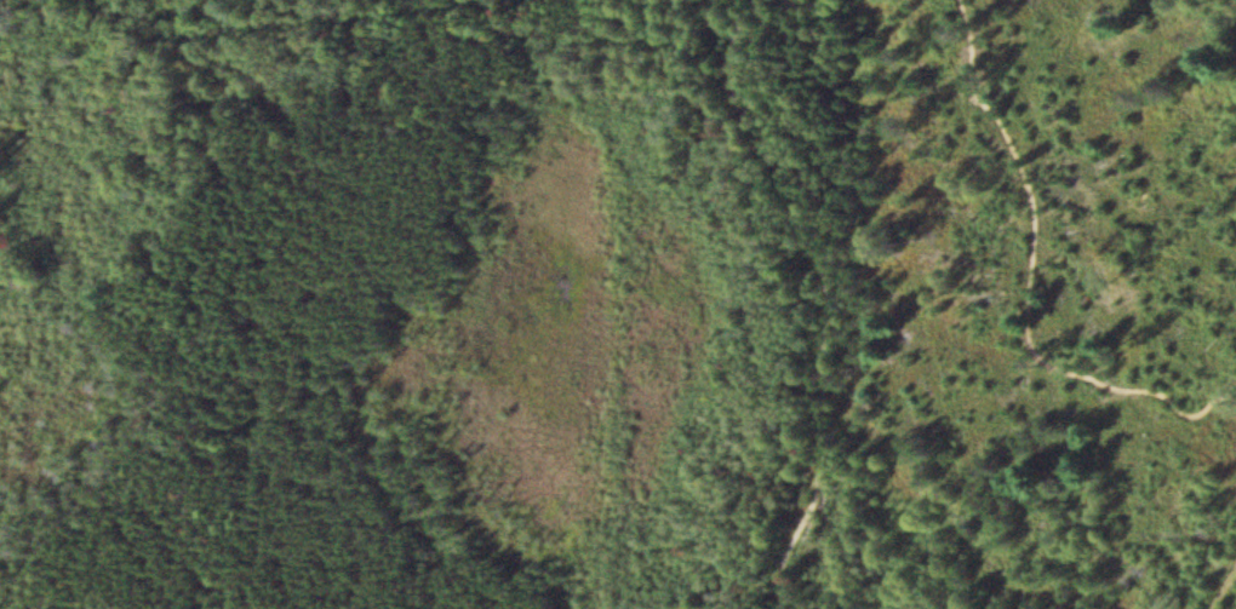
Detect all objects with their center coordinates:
road: (1026, 272)
road: (818, 275)
road: (1219, 570)

